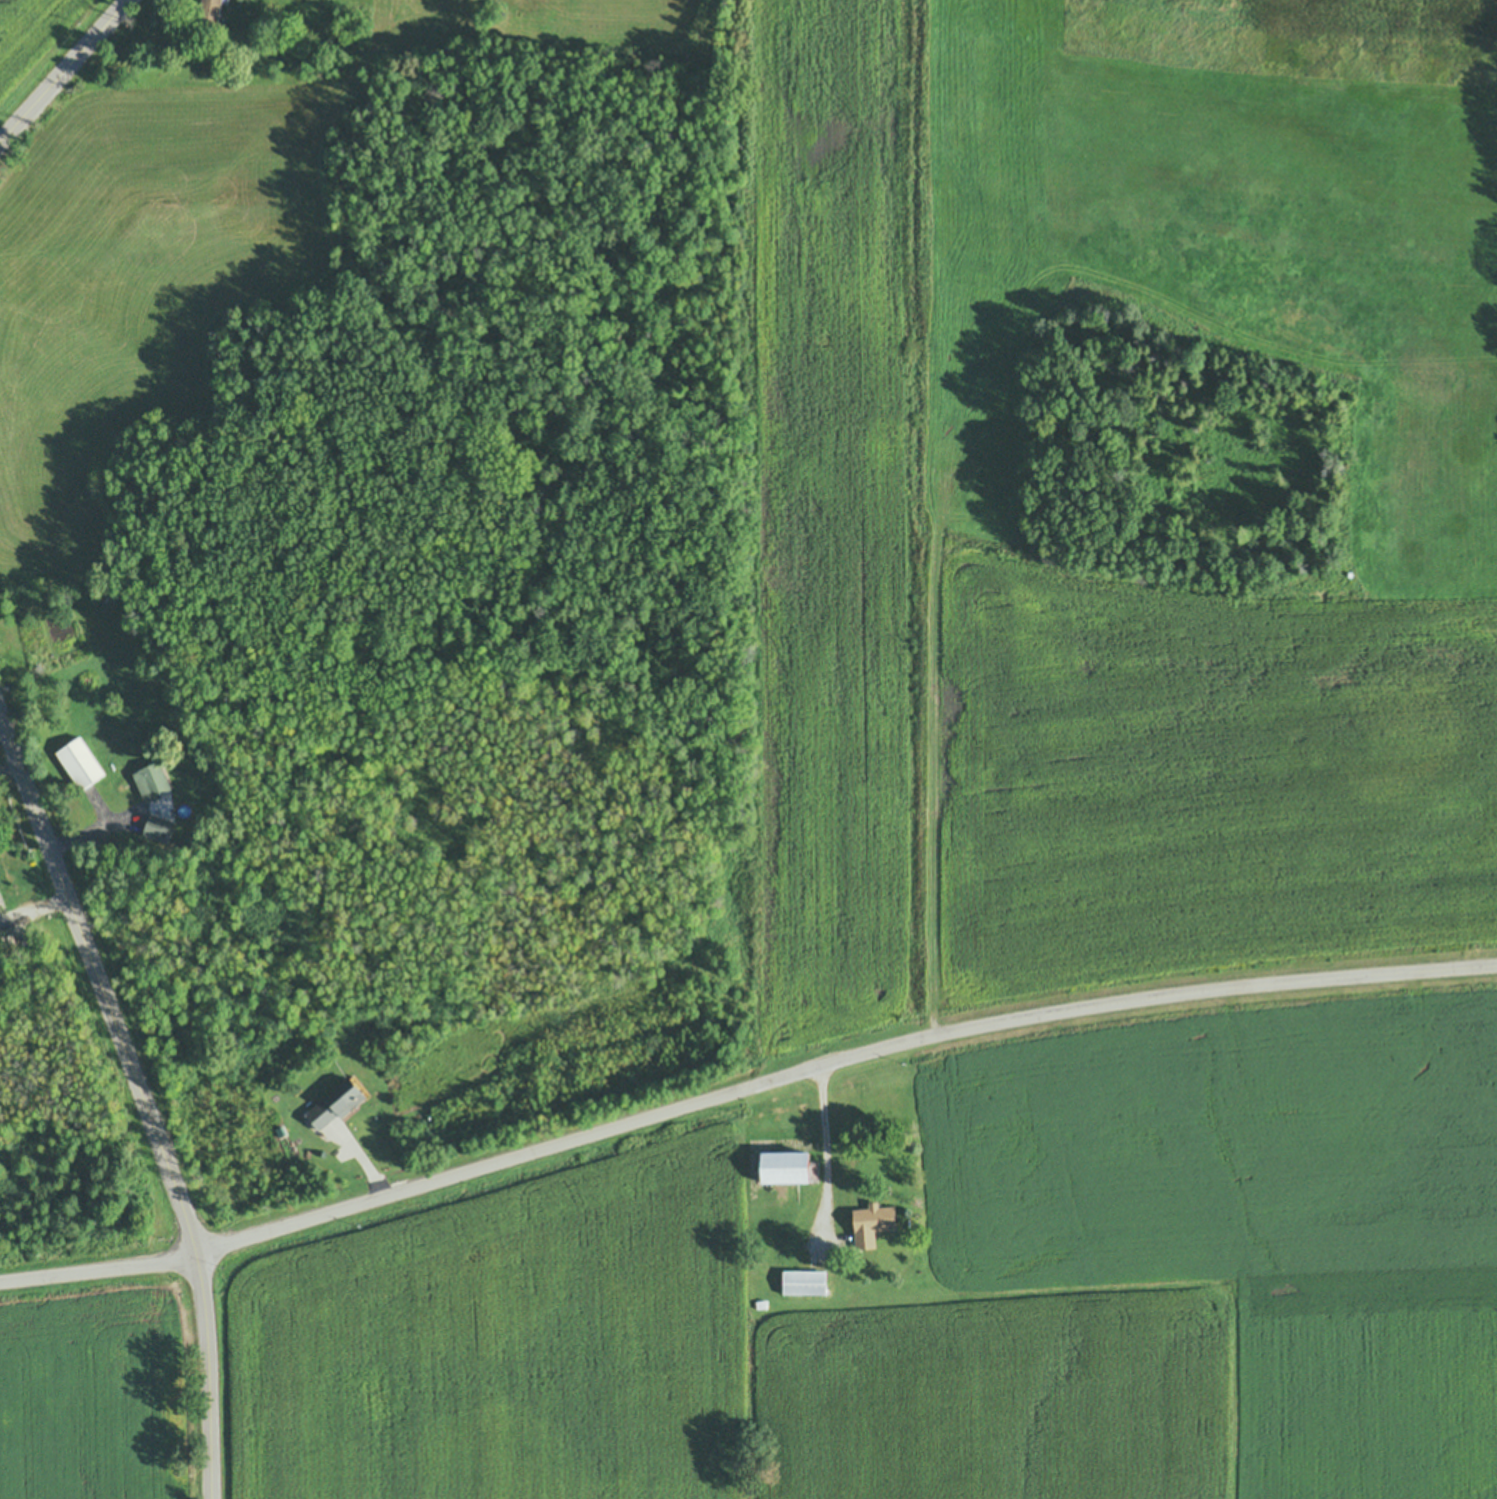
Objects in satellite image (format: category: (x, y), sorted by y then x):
building: (211, 12)
road: (65, 73)
building: (81, 763)
road: (9, 765)
building: (150, 780)
building: (159, 828)
road: (741, 1091)
road: (143, 1096)
building: (336, 1105)
building: (311, 1106)
building: (810, 1111)
road: (818, 1149)
building: (786, 1167)
building: (884, 1236)
building: (806, 1282)

